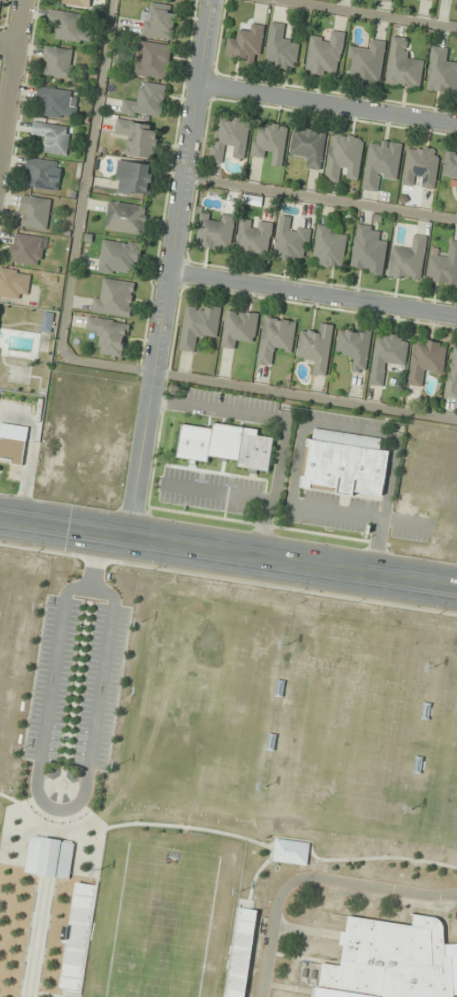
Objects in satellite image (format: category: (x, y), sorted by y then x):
building: (388, 0)
building: (434, 0)
building: (77, 2)
building: (1, 6)
building: (159, 20)
building: (70, 26)
road: (8, 43)
building: (247, 44)
building: (281, 48)
building: (326, 54)
building: (152, 59)
building: (58, 61)
building: (367, 61)
building: (403, 65)
building: (442, 71)
road: (11, 76)
building: (147, 101)
road: (328, 102)
building: (58, 103)
building: (52, 137)
building: (139, 138)
building: (231, 138)
building: (271, 141)
building: (308, 146)
building: (345, 155)
building: (382, 163)
building: (422, 165)
building: (450, 166)
building: (43, 174)
building: (134, 177)
building: (35, 212)
building: (126, 217)
building: (216, 231)
building: (254, 237)
building: (291, 241)
building: (329, 247)
building: (28, 249)
building: (369, 249)
building: (119, 256)
building: (408, 259)
building: (444, 267)
road: (170, 269)
building: (15, 283)
road: (313, 293)
building: (115, 298)
building: (0, 306)
building: (48, 322)
building: (199, 325)
building: (239, 327)
building: (109, 335)
building: (276, 337)
building: (316, 347)
building: (354, 347)
building: (388, 355)
building: (427, 359)
building: (452, 374)
building: (12, 452)
building: (256, 452)
building: (345, 463)
road: (228, 553)
road: (95, 562)
park: (12, 650)
parking lot: (52, 678)
parking lot: (100, 686)
park: (202, 703)
park: (348, 726)
park: (203, 771)
park: (453, 782)
road: (8, 797)
road: (71, 806)
road: (190, 827)
building: (291, 851)
road: (101, 853)
building: (48, 857)
road: (347, 858)
road: (44, 876)
road: (313, 876)
road: (252, 884)
park: (162, 922)
building: (245, 933)
building: (79, 935)
building: (392, 960)

